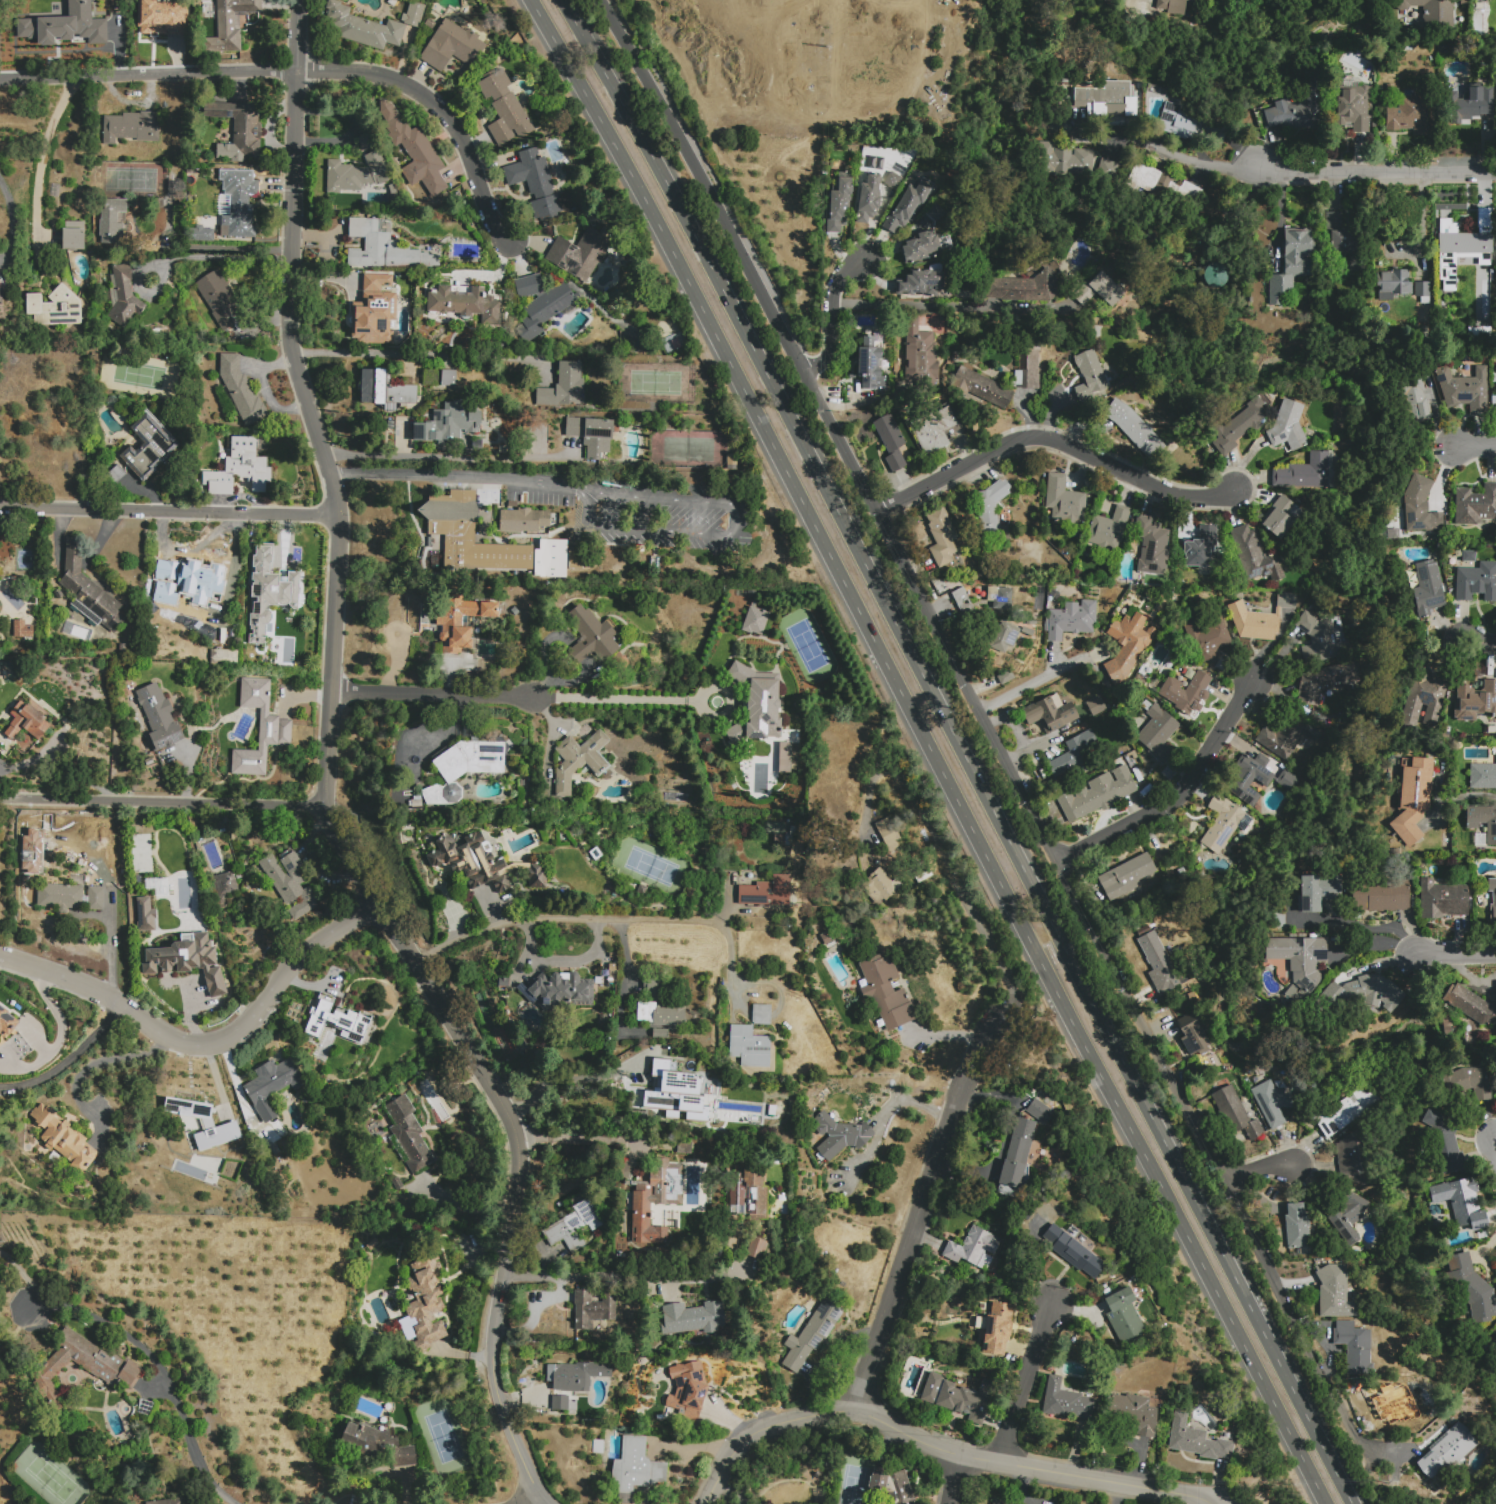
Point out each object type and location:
building: (1174, 7)
building: (1359, 7)
building: (413, 15)
building: (1426, 15)
building: (163, 21)
building: (43, 24)
building: (229, 25)
building: (363, 28)
building: (451, 46)
road: (146, 75)
park: (827, 94)
crop: (796, 99)
building: (1107, 100)
building: (1473, 103)
building: (504, 108)
building: (1351, 108)
road: (443, 109)
building: (1294, 115)
building: (1408, 115)
building: (1190, 126)
building: (131, 127)
building: (237, 130)
building: (366, 142)
building: (413, 150)
road: (42, 153)
road: (1192, 160)
building: (1064, 161)
building: (1106, 170)
road: (1375, 170)
building: (355, 174)
building: (893, 181)
building: (1162, 183)
building: (535, 184)
building: (868, 199)
building: (839, 202)
building: (907, 207)
building: (240, 208)
building: (934, 212)
building: (111, 221)
road: (13, 223)
building: (383, 225)
building: (199, 233)
building: (73, 236)
building: (1343, 241)
road: (225, 247)
building: (921, 247)
building: (387, 250)
building: (1457, 250)
building: (580, 254)
road: (215, 257)
building: (1289, 264)
building: (1215, 275)
building: (1392, 284)
building: (921, 285)
building: (1025, 288)
building: (1421, 289)
building: (1100, 290)
building: (1, 297)
building: (124, 297)
building: (221, 300)
building: (465, 303)
building: (539, 306)
road: (947, 306)
building: (55, 308)
road: (833, 317)
building: (373, 318)
building: (1375, 346)
building: (919, 351)
road: (416, 355)
building: (870, 365)
road: (295, 368)
building: (1029, 371)
building: (1089, 376)
building: (447, 378)
building: (1463, 388)
building: (385, 389)
building: (564, 389)
building: (983, 389)
building: (238, 391)
building: (1495, 392)
building: (1413, 398)
building: (450, 424)
building: (1239, 427)
building: (1288, 427)
building: (1134, 429)
building: (933, 430)
building: (592, 437)
road: (1053, 439)
building: (891, 441)
building: (477, 444)
building: (148, 447)
road: (1475, 448)
road: (447, 456)
building: (239, 467)
building: (1305, 472)
road: (410, 475)
building: (115, 476)
road: (537, 482)
building: (1065, 501)
building: (1475, 505)
building: (1419, 508)
road: (169, 511)
building: (991, 511)
building: (1281, 517)
building: (524, 520)
road: (732, 529)
building: (1108, 530)
building: (469, 536)
building: (941, 536)
building: (429, 542)
building: (1152, 546)
building: (1203, 549)
building: (1468, 556)
building: (1255, 557)
building: (552, 559)
building: (578, 560)
building: (1476, 582)
building: (187, 583)
building: (1428, 590)
building: (268, 591)
building: (90, 593)
building: (1000, 598)
building: (963, 604)
building: (1260, 619)
building: (755, 620)
building: (1071, 620)
building: (460, 621)
building: (22, 629)
building: (1027, 631)
building: (592, 637)
building: (1005, 637)
building: (1320, 639)
building: (1209, 641)
building: (1127, 645)
road: (1481, 646)
building: (122, 648)
building: (224, 657)
building: (1005, 677)
road: (1039, 680)
building: (1327, 681)
road: (438, 693)
building: (1186, 693)
building: (1423, 700)
building: (1102, 701)
building: (1475, 701)
building: (757, 706)
road: (977, 707)
building: (1049, 714)
building: (159, 717)
building: (27, 722)
building: (260, 728)
building: (1155, 732)
building: (1286, 737)
road: (936, 748)
road: (964, 749)
building: (1075, 755)
building: (784, 758)
building: (578, 760)
building: (1262, 760)
building: (150, 762)
building: (463, 769)
building: (1483, 777)
building: (1287, 780)
building: (1247, 781)
road: (904, 784)
road: (1176, 794)
building: (1097, 795)
road: (1465, 797)
building: (1413, 800)
building: (415, 801)
road: (162, 802)
building: (1483, 821)
building: (1223, 824)
road: (327, 825)
building: (887, 834)
building: (789, 836)
building: (482, 864)
building: (1126, 876)
building: (289, 884)
building: (223, 885)
building: (881, 886)
building: (1317, 892)
building: (766, 893)
building: (60, 897)
building: (1381, 898)
building: (96, 899)
building: (1442, 899)
building: (1493, 902)
building: (146, 916)
road: (574, 920)
road: (1358, 926)
building: (1143, 931)
building: (826, 938)
road: (1458, 955)
building: (1299, 958)
building: (187, 960)
building: (1158, 963)
building: (1495, 986)
building: (559, 992)
building: (886, 992)
road: (434, 993)
building: (1361, 993)
building: (176, 1001)
building: (1470, 1005)
building: (761, 1014)
building: (662, 1015)
road: (58, 1017)
building: (7, 1021)
building: (341, 1021)
building: (660, 1033)
building: (1193, 1037)
road: (206, 1045)
building: (749, 1046)
road: (66, 1058)
road: (570, 1080)
building: (272, 1085)
building: (1463, 1086)
building: (675, 1093)
building: (1495, 1095)
building: (1275, 1104)
road: (504, 1109)
road: (883, 1111)
building: (1235, 1114)
building: (1340, 1114)
building: (1043, 1115)
building: (204, 1123)
road: (947, 1133)
building: (408, 1134)
building: (840, 1136)
road: (567, 1137)
building: (62, 1140)
building: (1444, 1142)
building: (1018, 1156)
building: (1355, 1158)
road: (1258, 1167)
building: (200, 1169)
building: (396, 1183)
building: (755, 1195)
building: (652, 1196)
building: (1460, 1203)
building: (1345, 1217)
building: (575, 1229)
building: (1298, 1229)
building: (972, 1247)
building: (756, 1248)
building: (1074, 1254)
road: (610, 1278)
building: (1471, 1288)
building: (1335, 1294)
building: (424, 1304)
building: (593, 1311)
building: (691, 1318)
building: (1124, 1318)
road: (492, 1326)
building: (994, 1328)
building: (811, 1334)
building: (1355, 1349)
road: (831, 1355)
building: (84, 1366)
road: (155, 1371)
building: (574, 1382)
road: (1029, 1386)
building: (688, 1390)
building: (960, 1396)
building: (1065, 1401)
building: (1391, 1402)
building: (1133, 1413)
road: (936, 1440)
building: (1197, 1441)
building: (376, 1443)
road: (1372, 1448)
building: (1447, 1451)
building: (636, 1467)
road: (959, 1477)
park: (50, 1478)
building: (891, 1484)
road: (526, 1497)
building: (168, 1502)
building: (999, 1502)
road: (1211, 1502)

